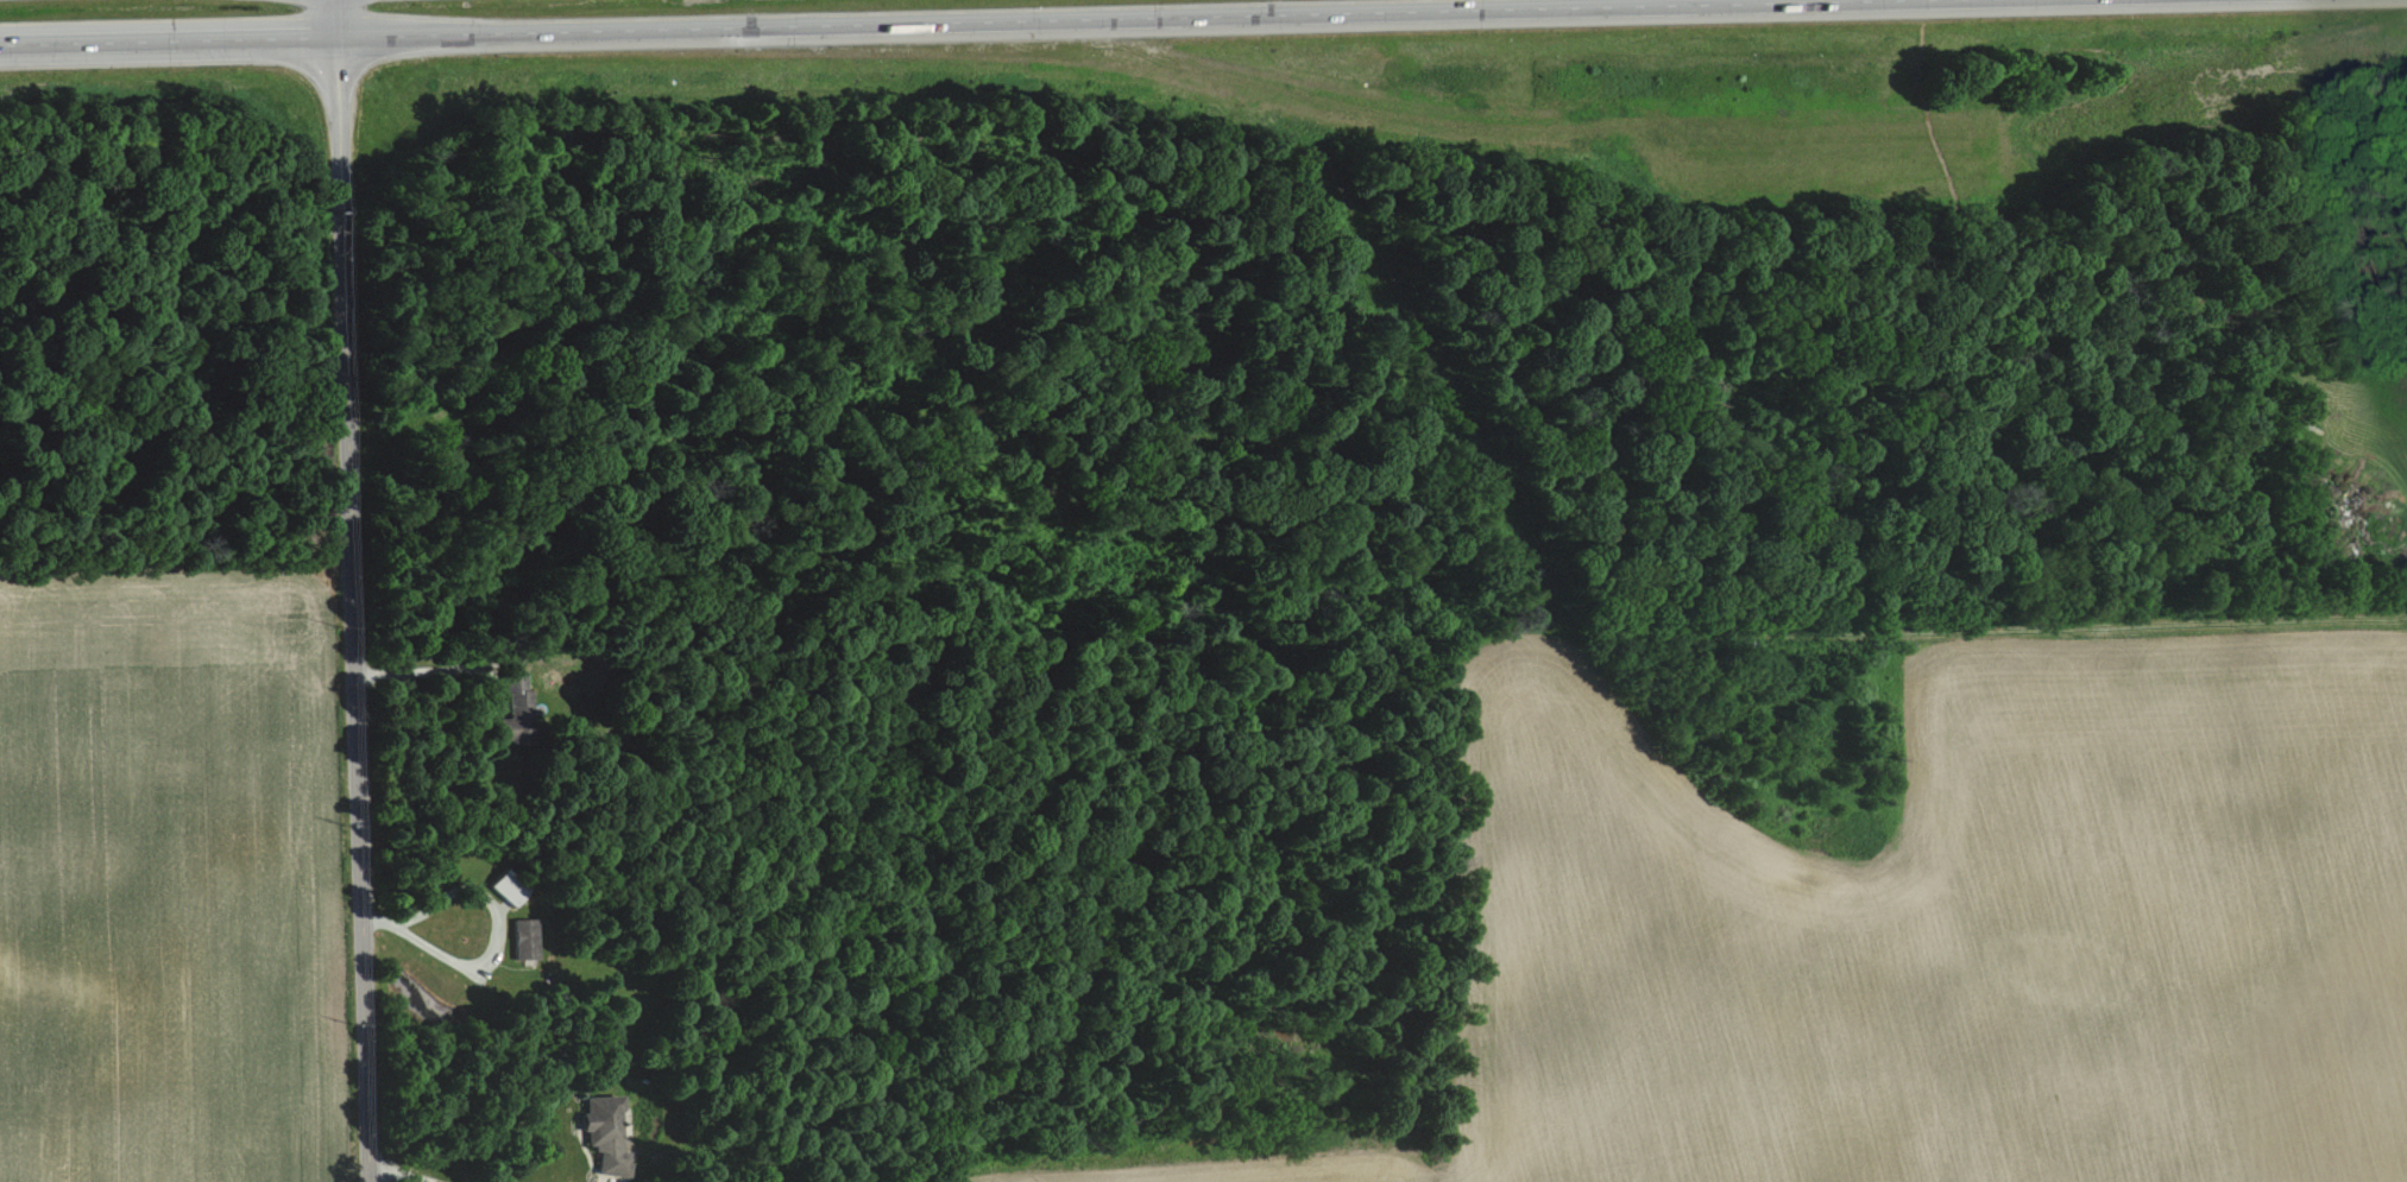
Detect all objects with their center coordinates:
road: (901, 21)
road: (352, 590)
building: (516, 707)
building: (510, 886)
building: (525, 938)
building: (606, 1133)

